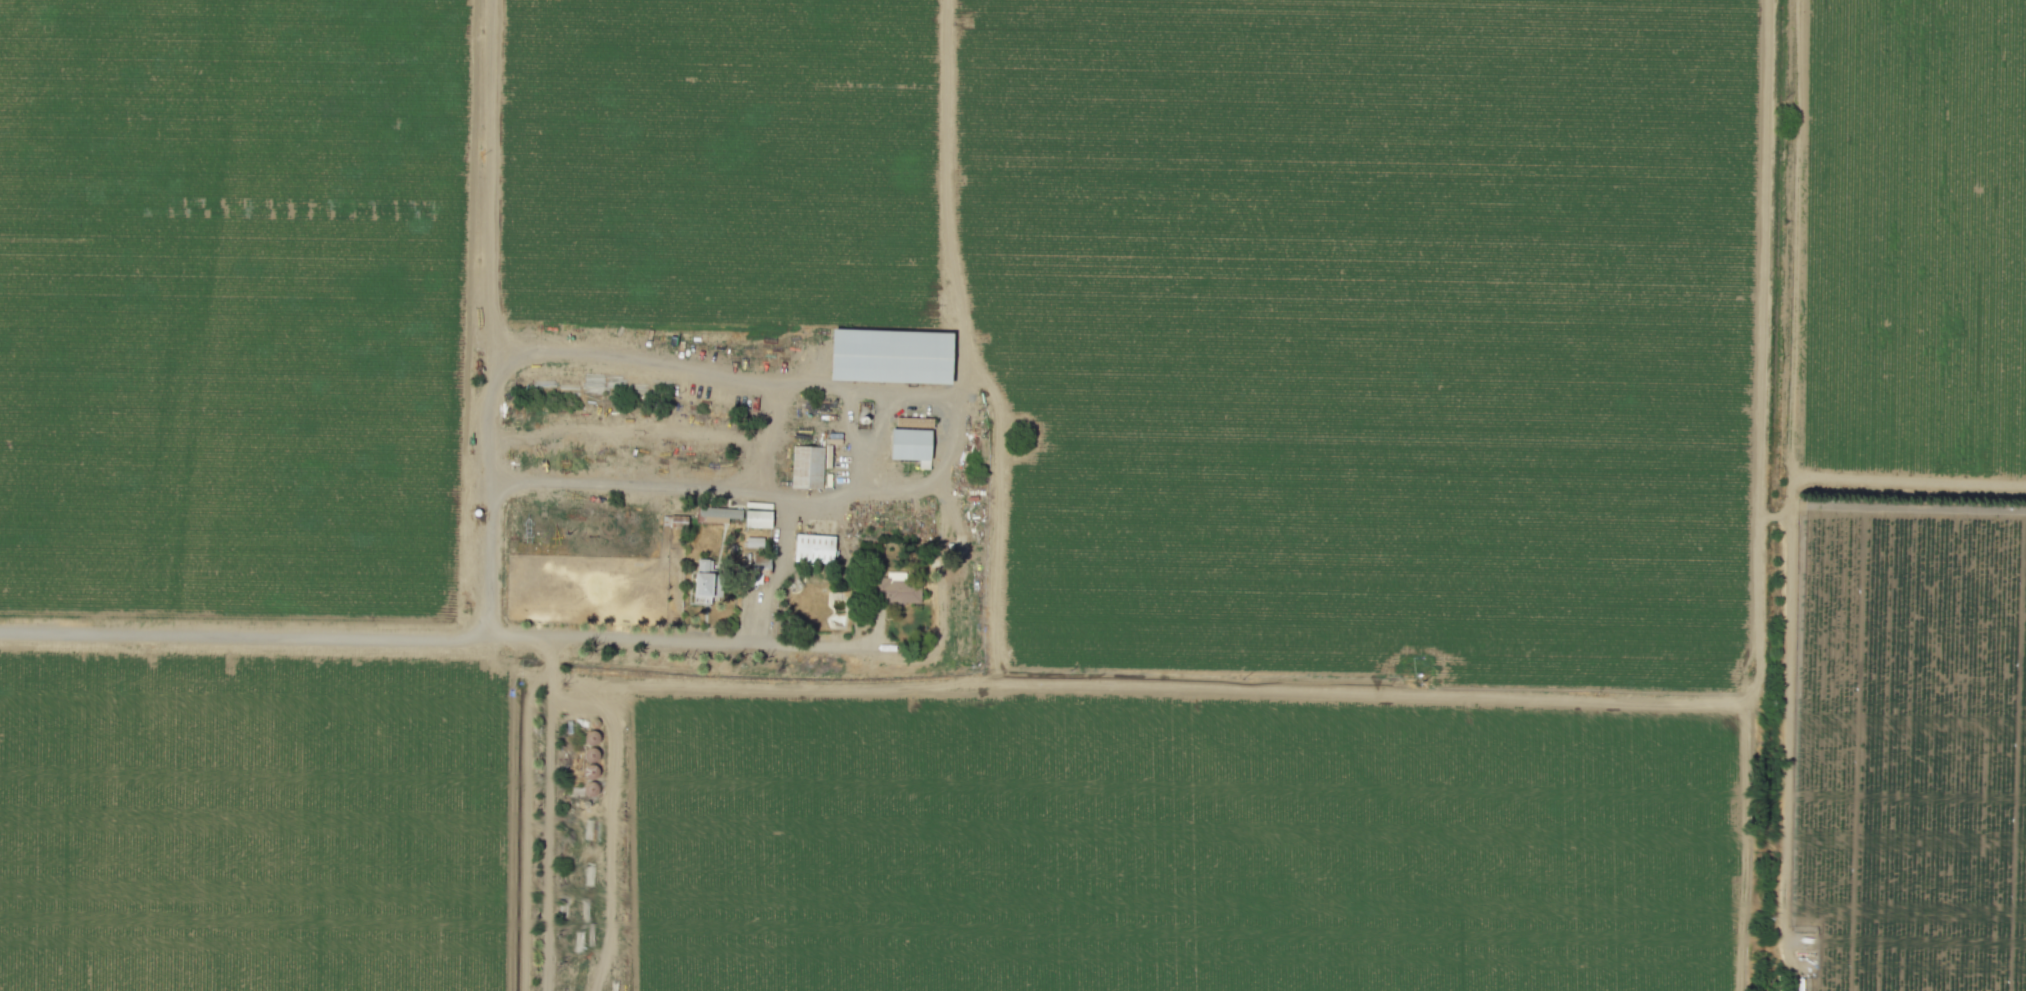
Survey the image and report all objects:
road: (1760, 259)
building: (890, 355)
road: (757, 375)
building: (910, 444)
building: (806, 466)
road: (758, 494)
building: (716, 514)
building: (757, 518)
building: (813, 548)
road: (775, 569)
building: (704, 585)
building: (896, 590)
road: (678, 639)
road: (547, 657)
road: (1094, 679)
road: (1785, 756)
road: (547, 834)
road: (609, 836)

